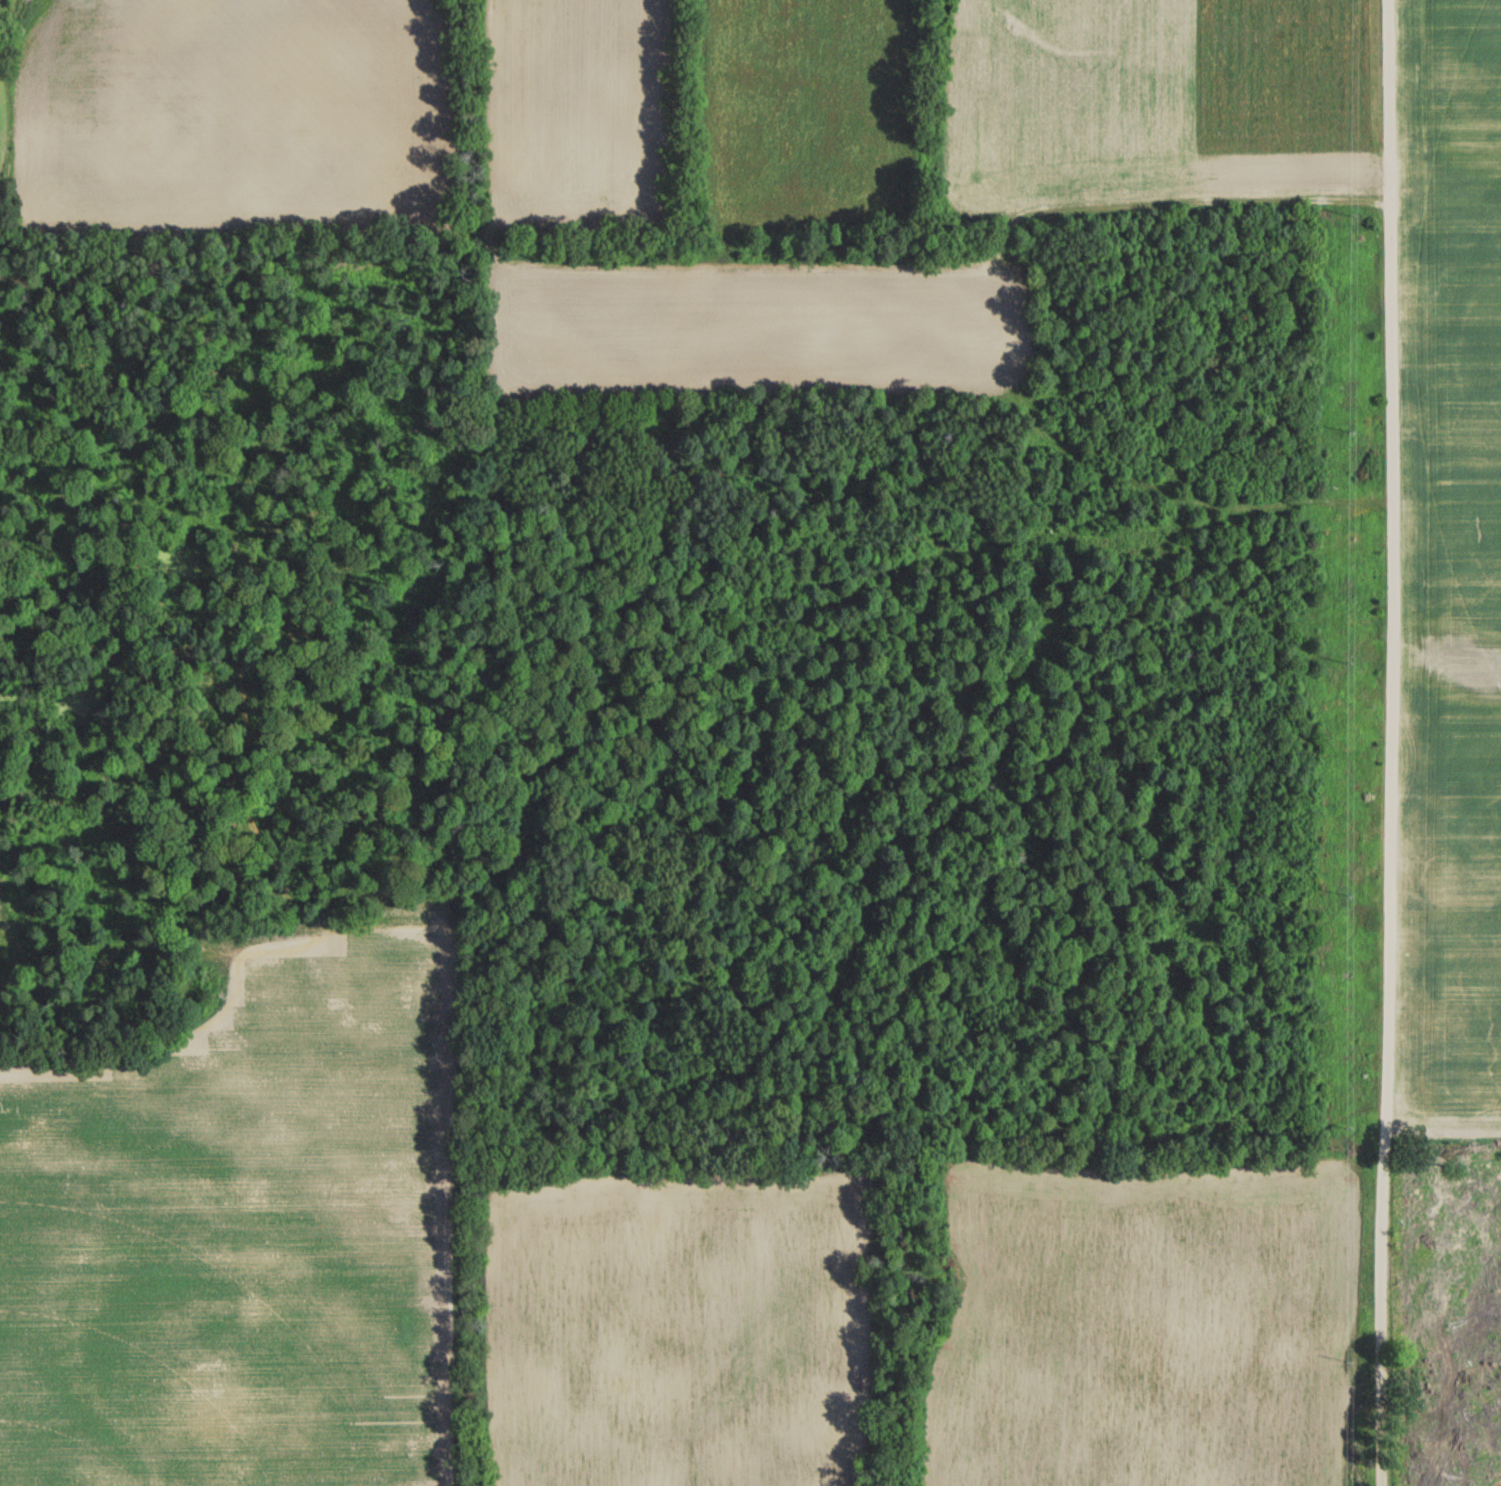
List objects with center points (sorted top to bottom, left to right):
road: (1386, 743)

